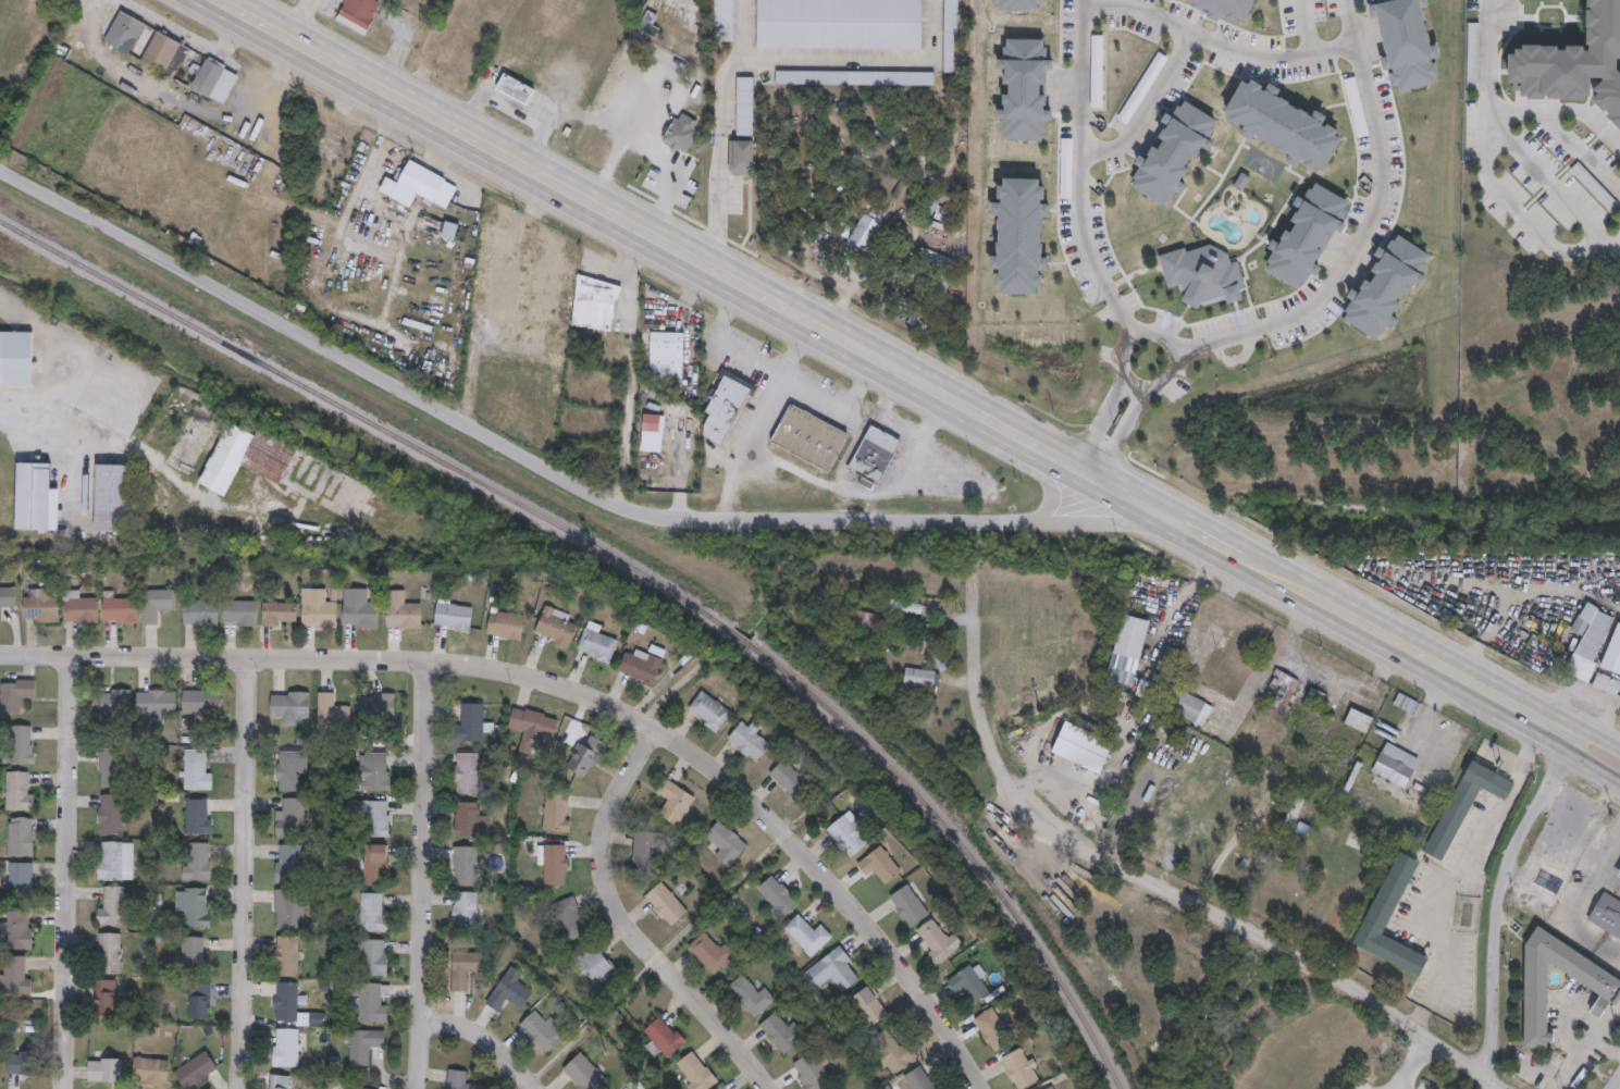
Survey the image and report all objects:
building: (1010, 3)
building: (1219, 7)
building: (357, 14)
building: (721, 20)
building: (648, 24)
building: (839, 24)
road: (1303, 26)
building: (125, 33)
building: (679, 34)
building: (947, 35)
building: (1400, 42)
road: (1217, 44)
building: (164, 53)
building: (1473, 54)
road: (1485, 54)
building: (1575, 60)
building: (1098, 71)
building: (852, 76)
building: (214, 81)
building: (1142, 87)
building: (514, 89)
building: (1016, 89)
building: (742, 104)
building: (1357, 107)
road: (1146, 109)
road: (1565, 110)
building: (1274, 123)
building: (680, 135)
road: (718, 135)
road: (1081, 151)
building: (1168, 151)
building: (737, 156)
road: (648, 157)
building: (1065, 168)
building: (919, 170)
building: (420, 185)
road: (1550, 186)
building: (1595, 186)
road: (1377, 187)
building: (901, 191)
building: (949, 200)
building: (937, 211)
road: (1519, 212)
building: (834, 218)
building: (450, 230)
building: (1009, 234)
building: (1299, 234)
building: (868, 235)
road: (647, 240)
building: (484, 258)
building: (936, 259)
building: (1198, 273)
building: (525, 274)
building: (1382, 286)
building: (585, 299)
road: (1123, 317)
road: (497, 331)
building: (558, 334)
road: (1217, 341)
road: (724, 344)
road: (1172, 349)
building: (16, 357)
building: (666, 357)
building: (554, 358)
road: (634, 372)
building: (725, 405)
road: (845, 406)
road: (1101, 421)
road: (757, 422)
road: (896, 422)
building: (652, 432)
road: (1124, 432)
building: (809, 436)
road: (146, 454)
building: (874, 454)
road: (527, 459)
building: (273, 463)
road: (911, 472)
building: (36, 497)
building: (112, 497)
road: (1167, 519)
railway: (634, 567)
building: (7, 599)
building: (158, 604)
building: (41, 605)
building: (79, 607)
building: (318, 608)
building: (120, 609)
building: (403, 610)
building: (200, 612)
building: (240, 612)
building: (280, 612)
building: (361, 615)
building: (454, 617)
building: (866, 620)
building: (506, 624)
building: (556, 626)
building: (1582, 626)
building: (1131, 636)
road: (1389, 636)
building: (597, 642)
building: (1591, 649)
building: (641, 666)
building: (922, 677)
building: (1607, 685)
road: (669, 691)
road: (574, 693)
building: (1278, 693)
building: (16, 694)
building: (1315, 697)
building: (112, 702)
building: (156, 702)
building: (201, 702)
building: (1408, 703)
building: (290, 705)
building: (378, 705)
road: (1427, 705)
building: (1192, 708)
building: (333, 710)
building: (709, 710)
building: (1359, 720)
building: (472, 722)
road: (1579, 725)
building: (533, 726)
building: (750, 739)
building: (23, 743)
building: (1081, 747)
building: (585, 756)
road: (1569, 760)
building: (1395, 764)
building: (110, 766)
building: (196, 768)
building: (290, 769)
building: (373, 771)
building: (467, 772)
building: (790, 778)
building: (20, 790)
building: (675, 802)
building: (557, 810)
building: (110, 814)
building: (198, 815)
building: (372, 816)
building: (290, 817)
building: (469, 819)
building: (849, 834)
building: (21, 837)
building: (1567, 842)
building: (645, 852)
building: (110, 861)
building: (198, 861)
building: (288, 863)
building: (376, 864)
building: (554, 864)
building: (466, 865)
building: (878, 865)
road: (1457, 869)
road: (69, 873)
building: (1618, 873)
road: (245, 874)
road: (422, 876)
building: (1619, 876)
building: (21, 877)
road: (1155, 889)
building: (1443, 894)
building: (777, 896)
road: (1575, 902)
building: (666, 903)
building: (910, 904)
building: (111, 905)
building: (195, 905)
building: (287, 908)
building: (373, 912)
building: (466, 912)
building: (1607, 914)
road: (1498, 916)
building: (571, 917)
road: (630, 925)
building: (18, 931)
building: (807, 935)
building: (935, 941)
building: (709, 952)
building: (109, 953)
building: (194, 954)
building: (287, 955)
building: (374, 957)
building: (596, 965)
building: (466, 969)
building: (833, 970)
building: (16, 973)
building: (969, 982)
building: (1603, 983)
building: (511, 990)
building: (106, 995)
building: (750, 995)
building: (286, 1001)
building: (370, 1002)
building: (199, 1006)
building: (868, 1006)
building: (542, 1030)
building: (992, 1030)
building: (782, 1034)
road: (486, 1036)
building: (664, 1037)
building: (364, 1045)
road: (1603, 1045)
building: (285, 1047)
building: (889, 1051)
building: (23, 1063)
road: (1569, 1063)
road: (1414, 1064)
building: (1019, 1068)
building: (104, 1069)
building: (197, 1069)
building: (150, 1071)
building: (696, 1071)
building: (812, 1072)
building: (584, 1073)
building: (920, 1078)
building: (459, 1079)
building: (279, 1081)
road: (1615, 1081)
building: (354, 1087)
building: (722, 1087)
building: (1052, 1087)
building: (838, 1088)

